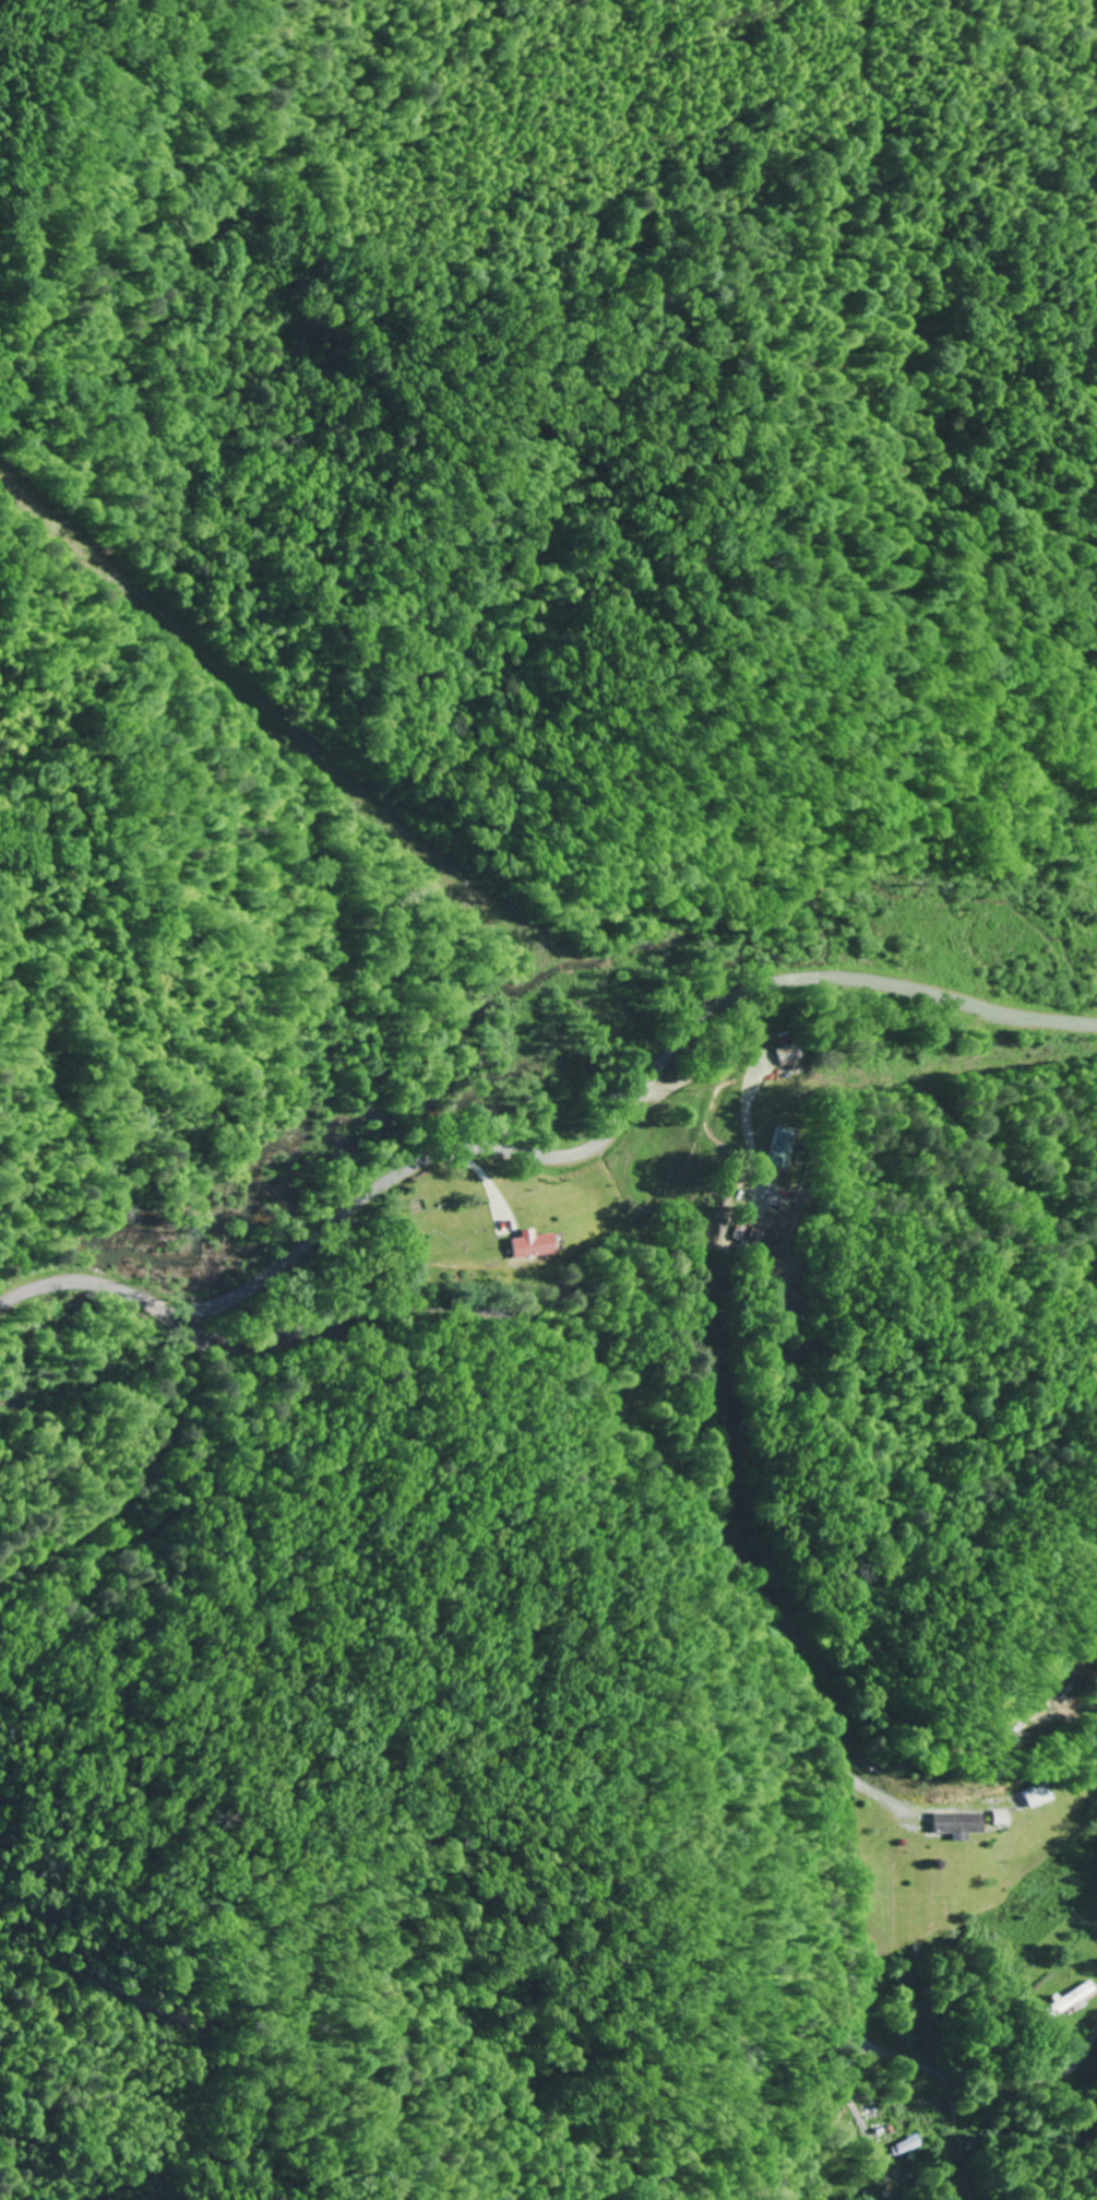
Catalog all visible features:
building: (789, 1053)
road: (970, 1138)
building: (780, 1148)
road: (557, 1159)
building: (457, 1242)
building: (533, 1243)
road: (725, 1553)
building: (1037, 1796)
building: (958, 1822)
building: (1069, 1998)
road: (980, 2084)
building: (906, 2145)

